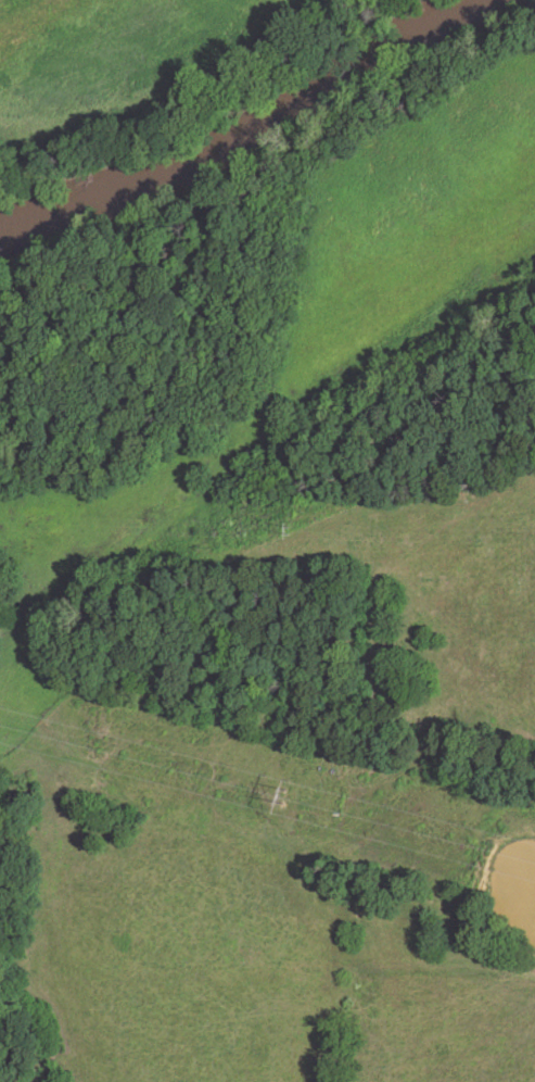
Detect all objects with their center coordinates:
river: (238, 119)
power tower: (292, 526)
power tower: (283, 796)

